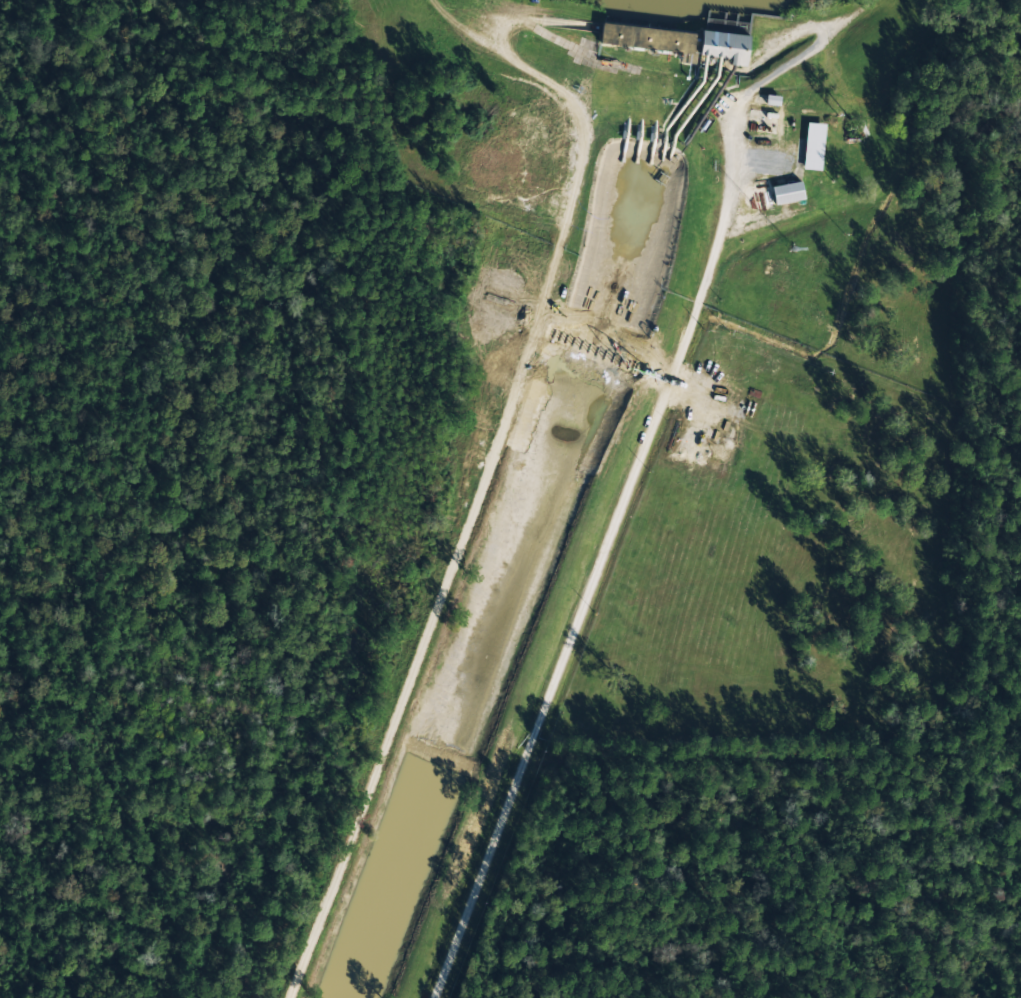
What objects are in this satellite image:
building: (646, 38)
dam: (674, 38)
building: (725, 46)
road: (584, 131)
building: (813, 147)
building: (787, 193)
road: (594, 352)
road: (656, 379)
road: (569, 646)

